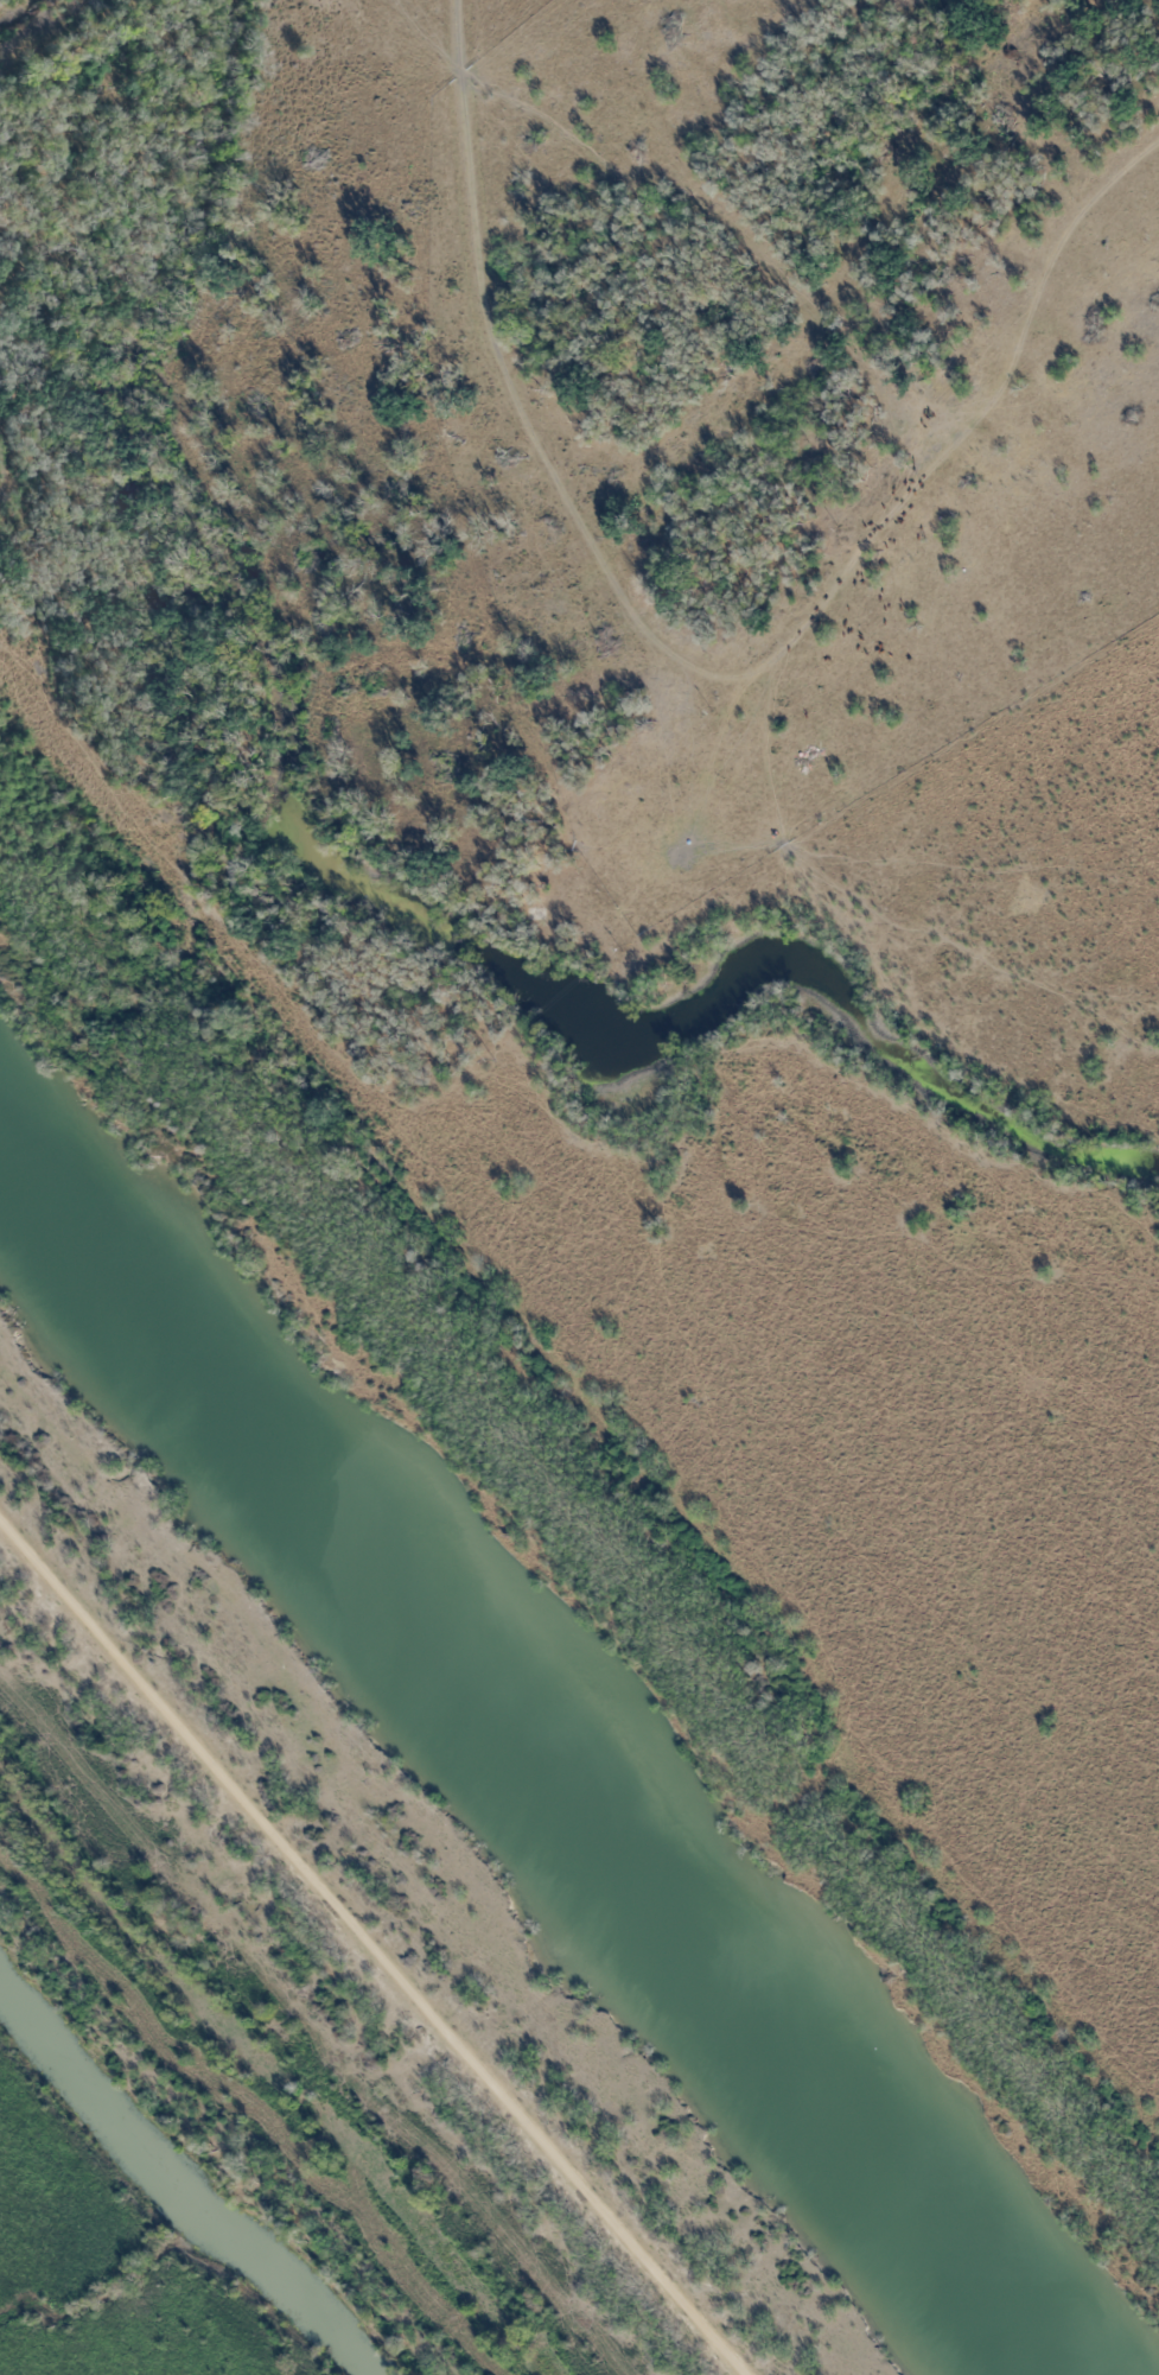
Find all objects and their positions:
road: (520, 396)
road: (877, 520)
road: (122, 1649)
road: (499, 2083)

